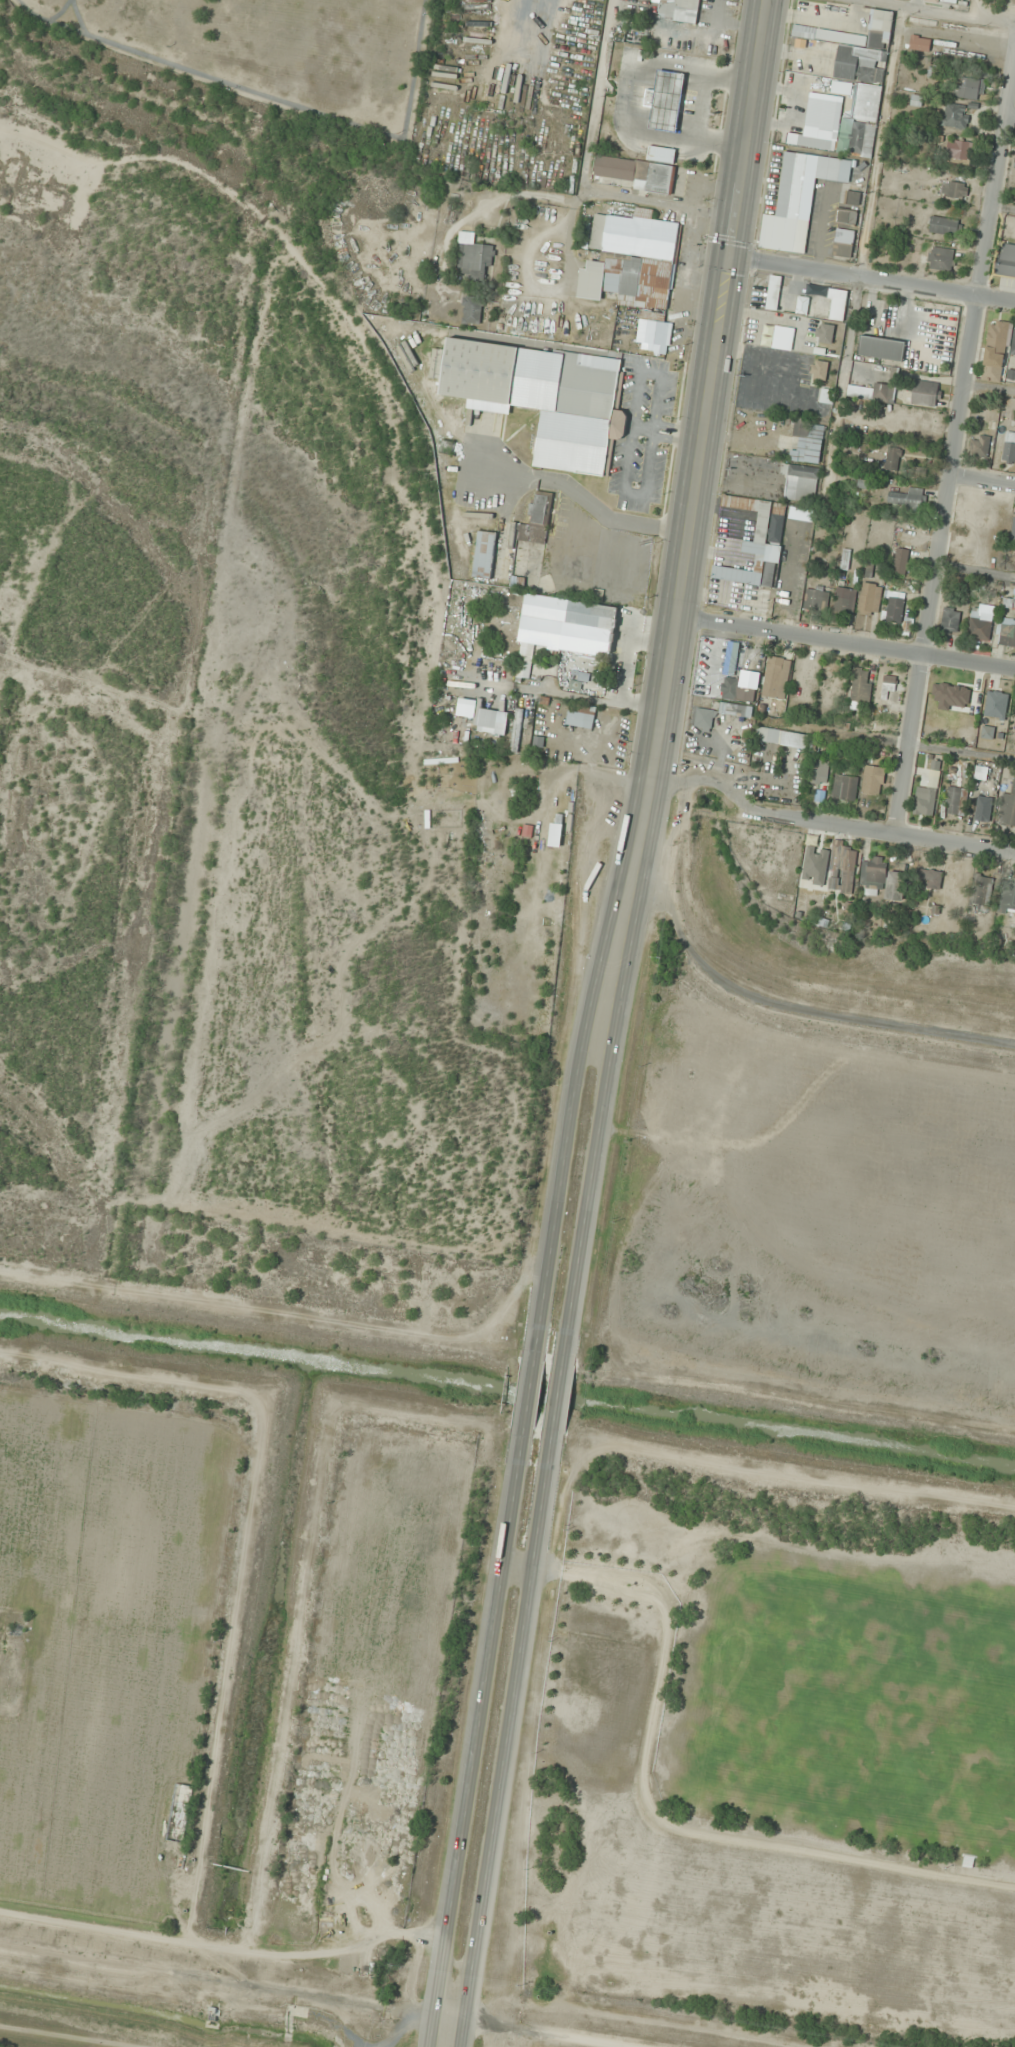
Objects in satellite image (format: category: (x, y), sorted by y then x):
building: (950, 2)
building: (678, 10)
building: (919, 43)
building: (798, 55)
building: (869, 83)
building: (841, 87)
building: (968, 89)
building: (665, 100)
building: (821, 113)
road: (1009, 114)
building: (955, 115)
building: (957, 152)
building: (641, 170)
building: (953, 189)
building: (852, 198)
building: (798, 199)
building: (846, 217)
building: (944, 226)
building: (843, 242)
traffic signals: (728, 256)
building: (940, 258)
building: (475, 260)
building: (1006, 261)
building: (635, 269)
road: (871, 279)
building: (773, 292)
building: (838, 294)
building: (802, 305)
building: (472, 309)
building: (837, 309)
building: (824, 332)
building: (1013, 341)
building: (995, 343)
building: (881, 348)
building: (819, 370)
building: (871, 392)
building: (925, 393)
building: (826, 396)
building: (543, 399)
road: (704, 420)
road: (953, 437)
building: (807, 442)
building: (1009, 445)
building: (979, 446)
building: (892, 458)
building: (917, 475)
road: (981, 479)
building: (800, 482)
building: (906, 498)
building: (537, 520)
river: (284, 530)
building: (1013, 531)
building: (757, 542)
building: (484, 554)
building: (900, 561)
building: (784, 588)
building: (597, 595)
building: (815, 599)
building: (869, 599)
building: (844, 601)
building: (1009, 602)
building: (894, 607)
building: (949, 621)
building: (980, 622)
building: (591, 626)
building: (1006, 632)
road: (845, 641)
building: (526, 660)
building: (776, 677)
building: (737, 678)
building: (581, 681)
building: (861, 684)
building: (888, 688)
building: (938, 697)
building: (776, 708)
building: (735, 709)
building: (581, 715)
building: (704, 717)
building: (486, 721)
building: (1014, 729)
building: (782, 737)
building: (819, 774)
building: (872, 780)
building: (845, 787)
building: (924, 800)
building: (955, 800)
building: (1007, 807)
road: (822, 821)
building: (816, 856)
building: (844, 864)
building: (873, 873)
building: (929, 878)
building: (895, 885)
building: (982, 890)
building: (1008, 898)
road: (575, 1098)
road: (606, 1104)
building: (699, 1158)
road: (528, 1393)
road: (556, 1397)
river: (658, 1408)
road: (479, 1735)
road: (508, 1737)

